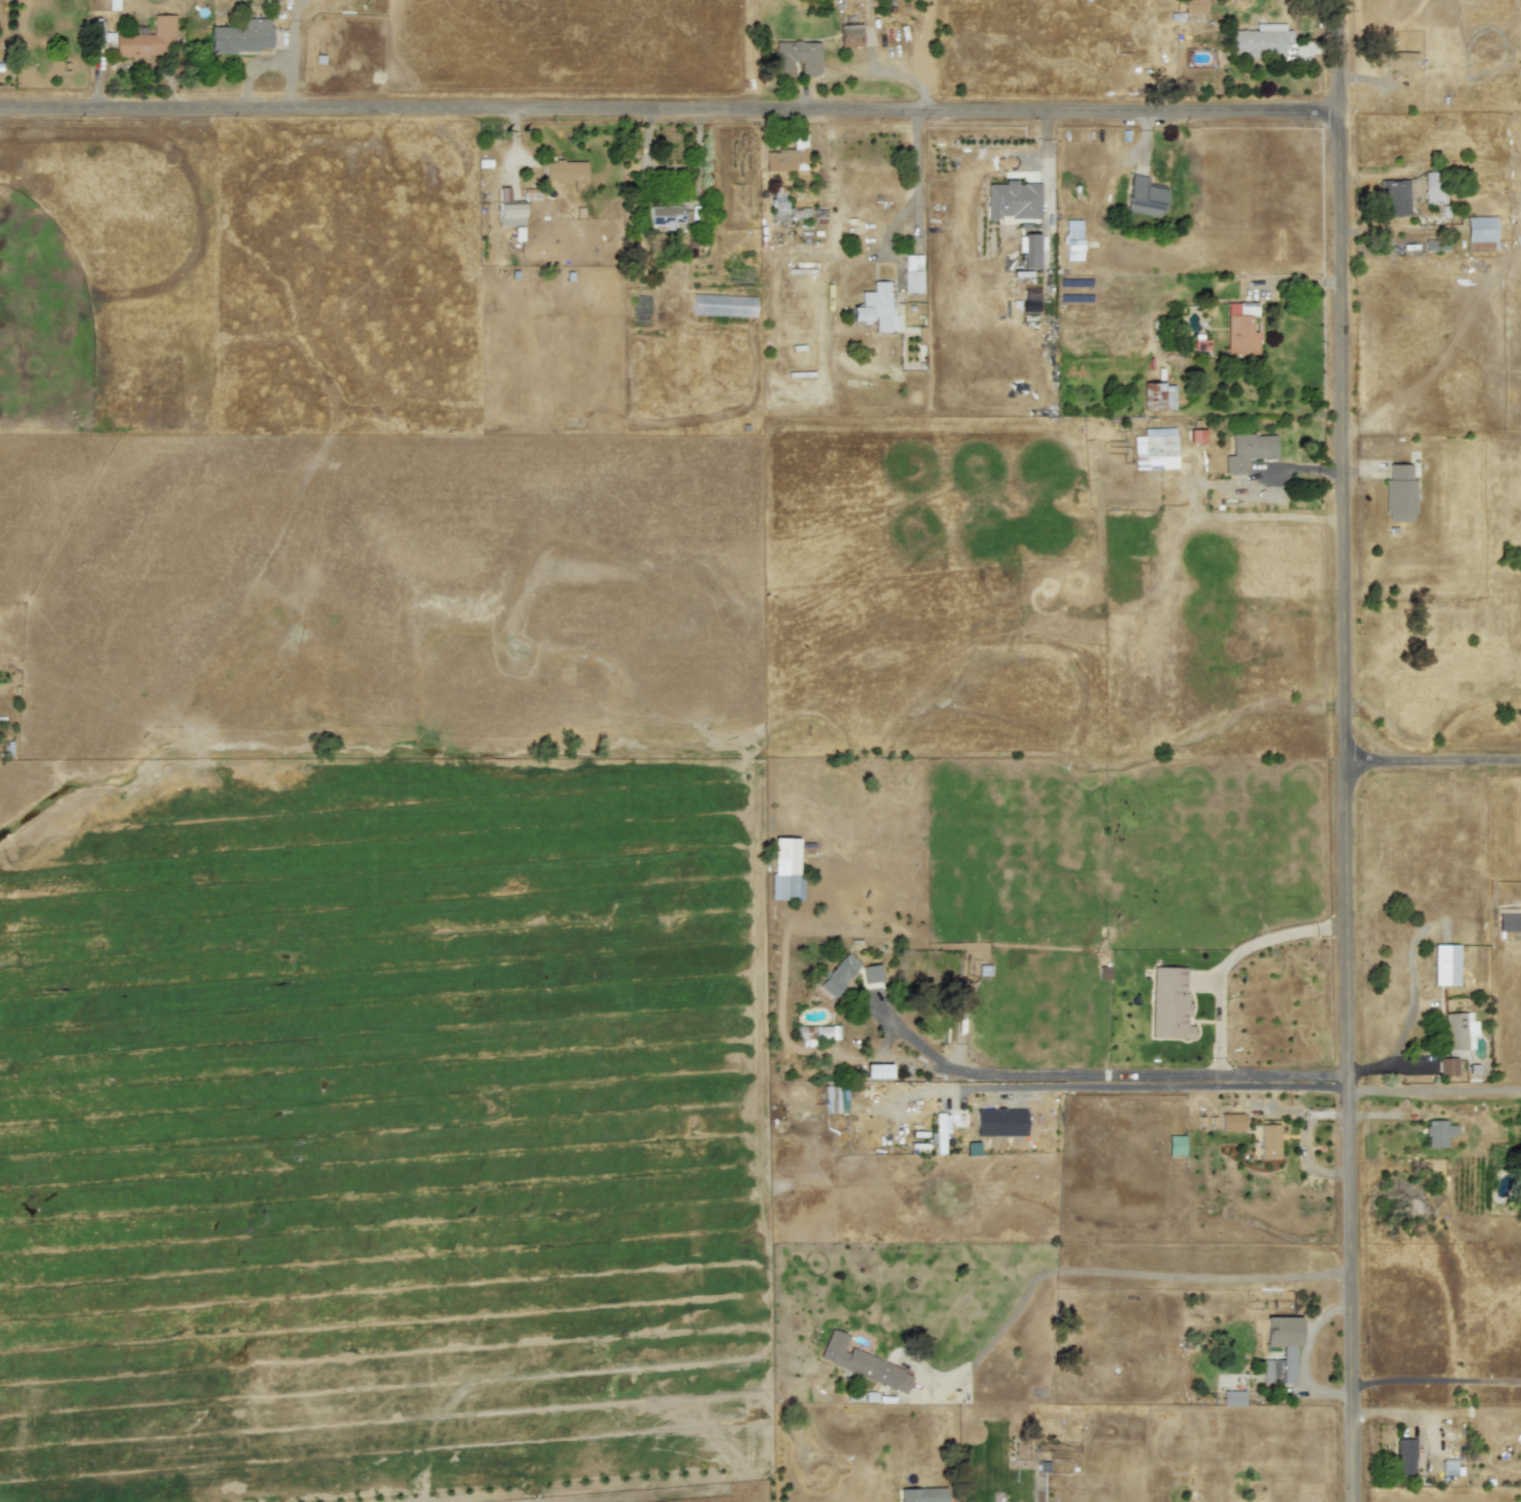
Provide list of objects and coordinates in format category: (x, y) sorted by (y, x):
building: (1194, 7)
building: (849, 35)
building: (242, 36)
building: (148, 39)
building: (1261, 40)
building: (797, 57)
building: (1401, 62)
road: (862, 73)
road: (672, 120)
building: (567, 172)
road: (917, 185)
building: (1432, 188)
building: (1143, 196)
building: (1393, 197)
building: (1012, 201)
building: (786, 208)
building: (509, 209)
building: (669, 215)
building: (1480, 233)
building: (1073, 240)
building: (1435, 245)
building: (1029, 249)
building: (801, 267)
building: (912, 274)
building: (723, 305)
building: (875, 308)
building: (1241, 329)
building: (1201, 344)
building: (1158, 396)
building: (1196, 436)
building: (1154, 449)
building: (1248, 451)
building: (1399, 492)
road: (1350, 751)
road: (1435, 767)
building: (786, 886)
building: (1509, 922)
road: (1233, 955)
building: (1445, 965)
building: (871, 973)
building: (837, 975)
building: (1169, 1003)
building: (1458, 1030)
building: (816, 1033)
building: (1447, 1066)
building: (877, 1070)
road: (1064, 1072)
road: (1436, 1090)
building: (831, 1099)
crop: (410, 1118)
building: (957, 1119)
building: (1231, 1122)
building: (939, 1131)
building: (1438, 1133)
building: (1268, 1141)
building: (1175, 1145)
building: (971, 1148)
road: (1122, 1272)
building: (1287, 1353)
building: (862, 1363)
road: (1438, 1378)
building: (1233, 1397)
building: (1404, 1456)
building: (1450, 1467)
building: (922, 1494)

